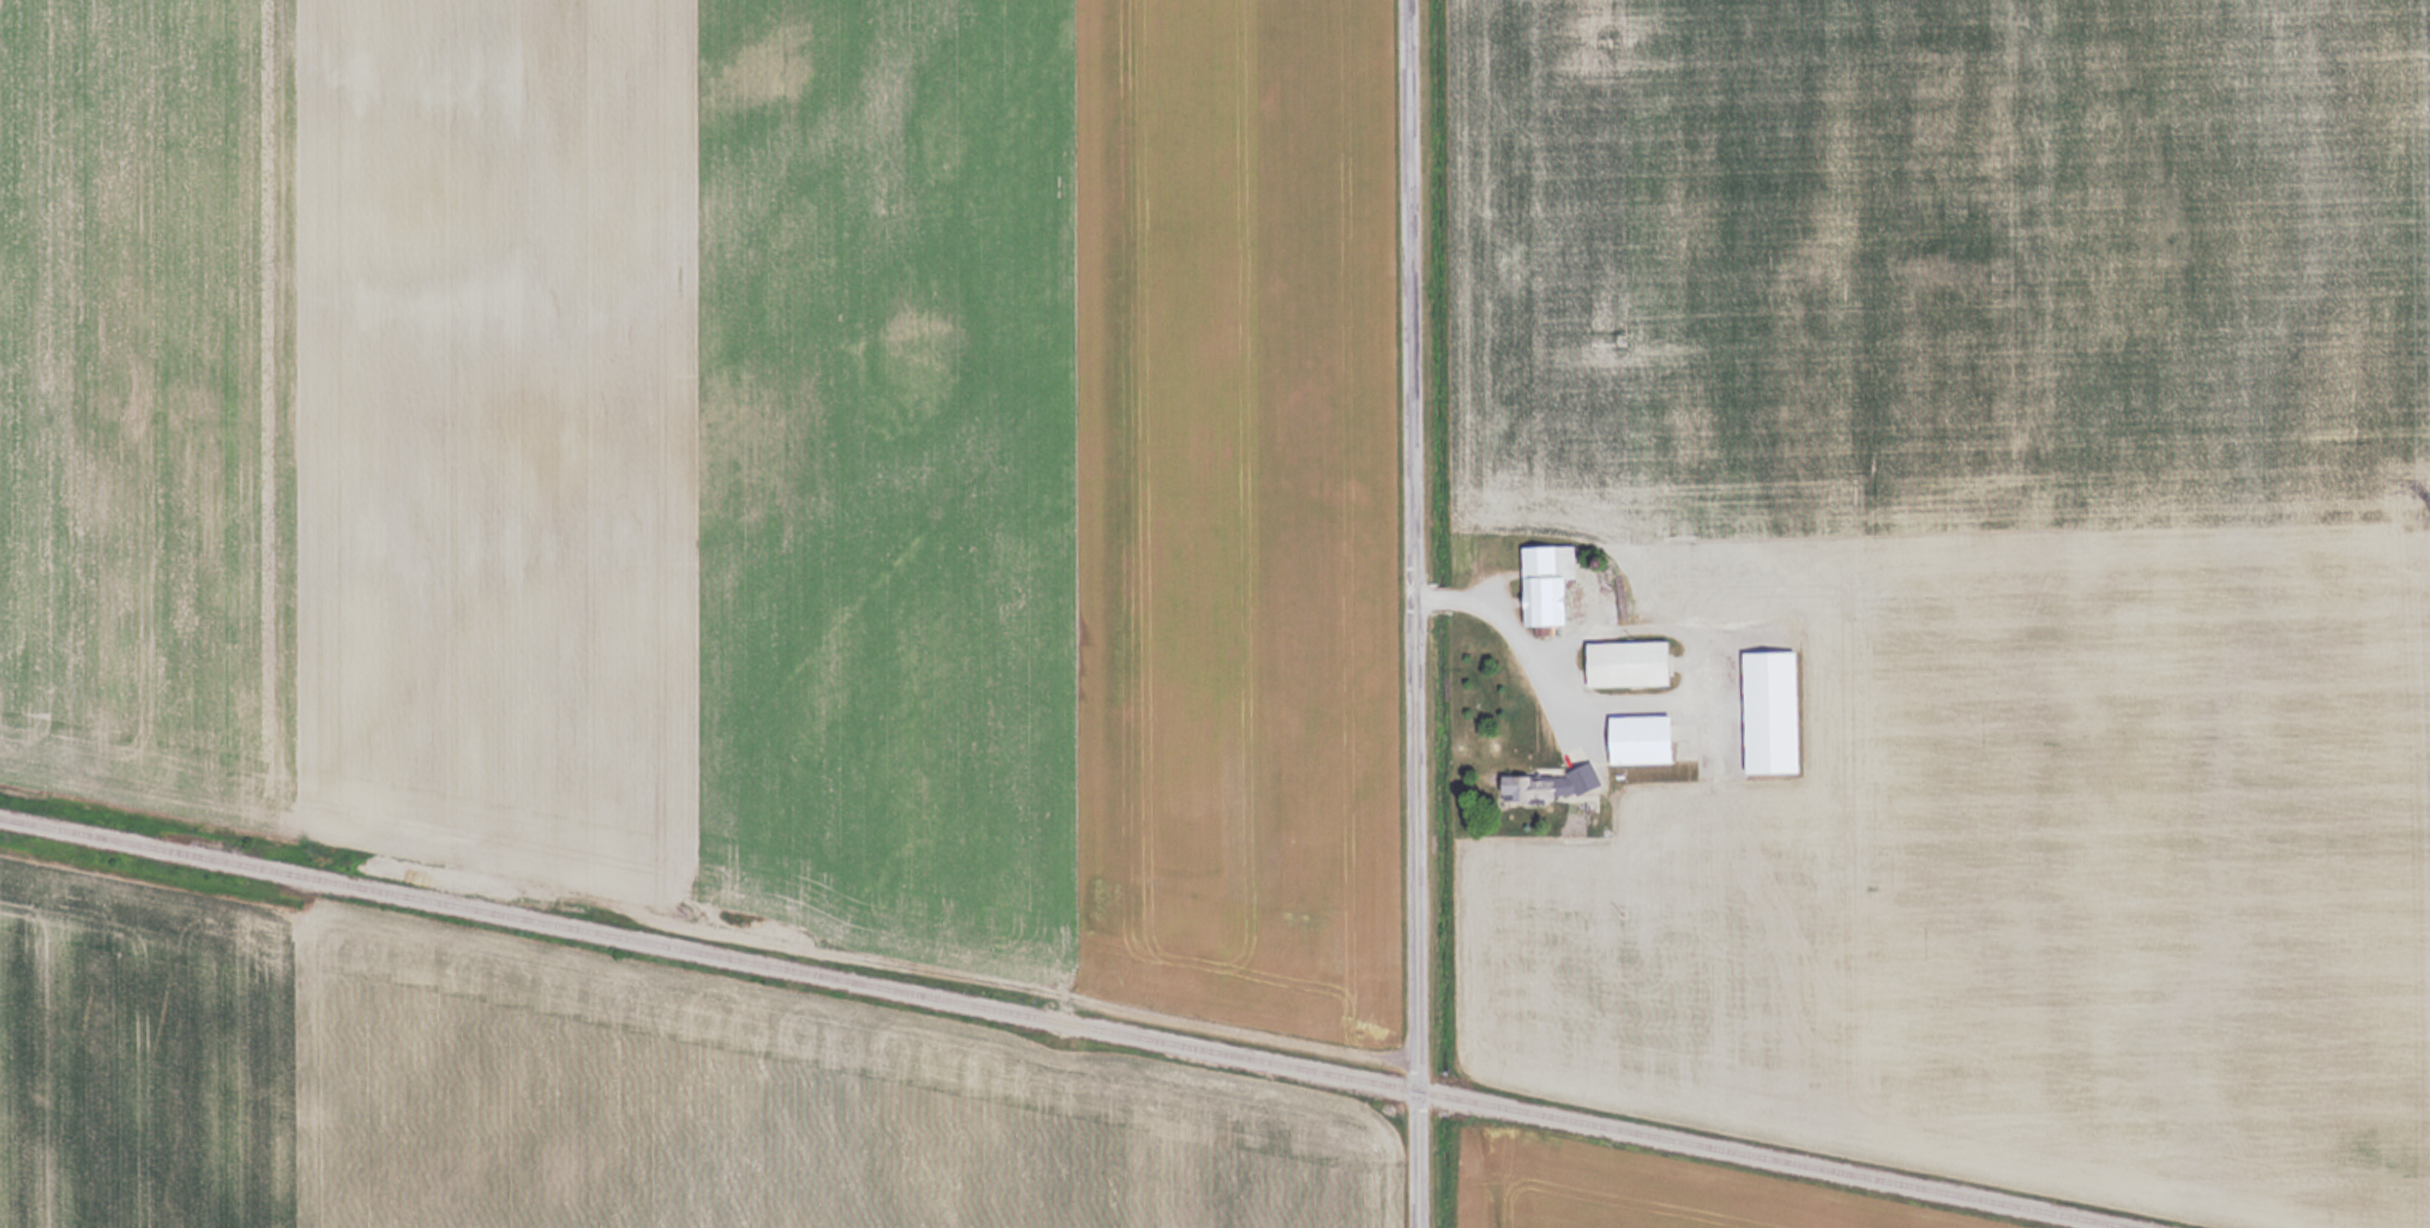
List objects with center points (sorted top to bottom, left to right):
building: (1542, 585)
road: (1414, 614)
road: (1515, 628)
building: (1624, 660)
building: (1634, 740)
building: (1544, 783)
railway: (709, 952)
railway: (1776, 1158)

